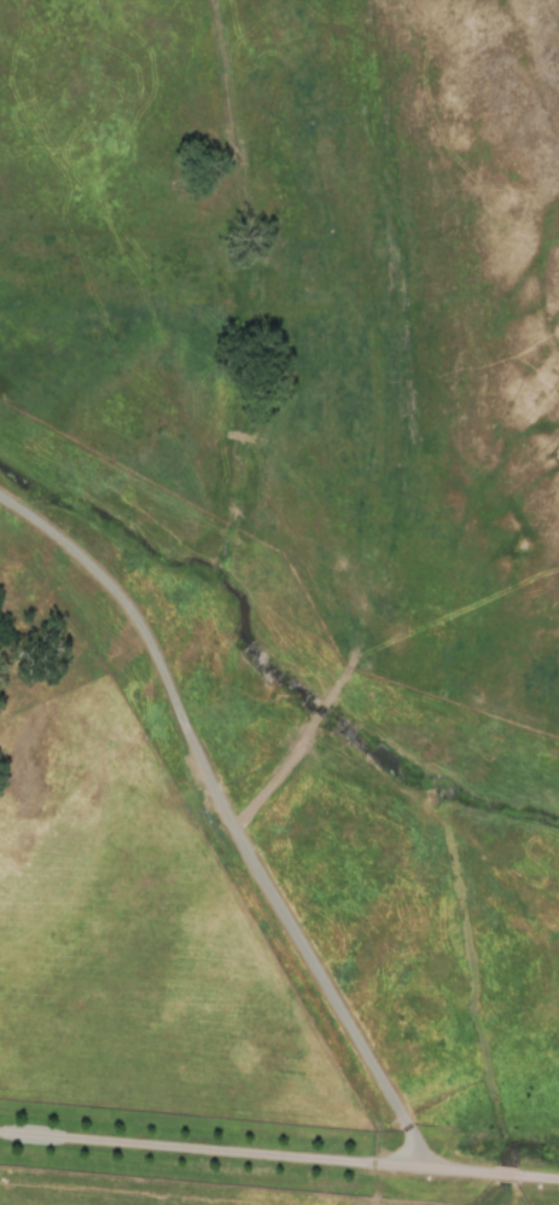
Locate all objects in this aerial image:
road: (279, 1154)

